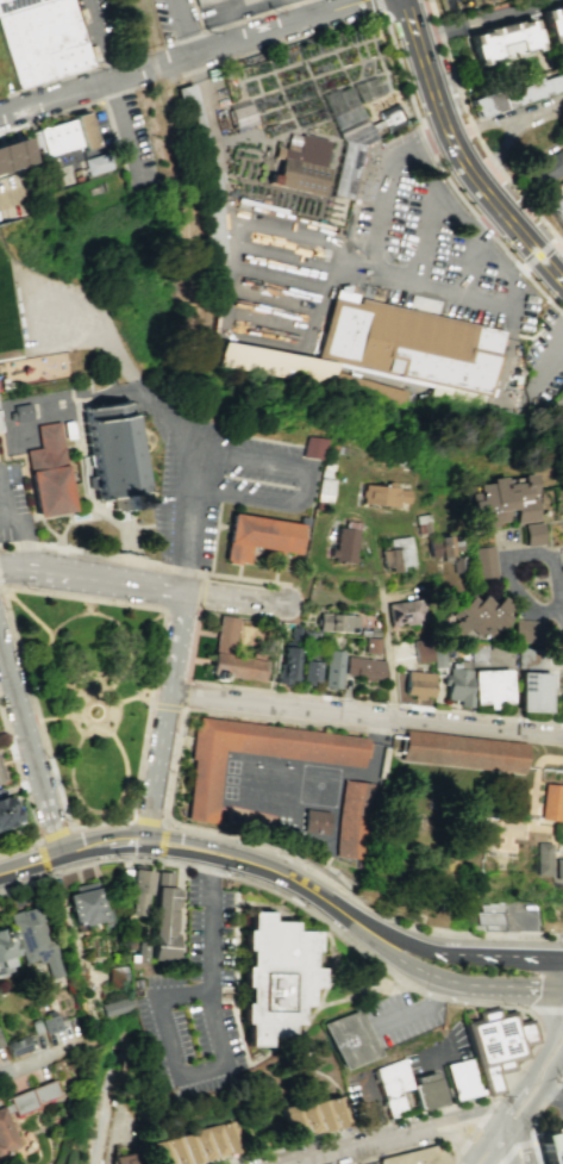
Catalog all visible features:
building: (206, 2)
road: (377, 7)
parking lot: (244, 13)
road: (490, 23)
building: (556, 24)
parking lot: (101, 27)
road: (280, 27)
building: (39, 39)
road: (98, 41)
building: (506, 43)
road: (152, 48)
railway: (151, 54)
road: (95, 85)
building: (517, 97)
road: (206, 108)
road: (539, 108)
road: (481, 125)
road: (126, 131)
road: (477, 135)
building: (68, 138)
road: (433, 139)
building: (361, 145)
road: (498, 150)
building: (18, 151)
building: (5, 157)
road: (457, 157)
road: (430, 166)
building: (302, 167)
building: (550, 167)
building: (206, 172)
building: (96, 173)
road: (443, 178)
railway: (186, 185)
building: (557, 211)
road: (457, 213)
road: (426, 237)
parking lot: (427, 247)
road: (538, 256)
road: (495, 261)
road: (354, 263)
road: (469, 268)
road: (381, 278)
road: (25, 306)
park: (10, 316)
road: (311, 335)
building: (415, 344)
parking lot: (544, 360)
road: (546, 363)
building: (280, 367)
building: (376, 391)
road: (150, 402)
parking lot: (557, 412)
building: (1, 425)
building: (311, 447)
building: (123, 466)
building: (51, 474)
building: (325, 491)
parking lot: (224, 492)
building: (381, 494)
building: (503, 500)
road: (283, 504)
parking lot: (13, 505)
building: (533, 534)
road: (23, 536)
building: (261, 539)
building: (344, 546)
building: (448, 546)
road: (507, 555)
building: (401, 559)
building: (484, 565)
building: (461, 566)
road: (93, 579)
road: (1, 589)
road: (237, 598)
building: (404, 612)
building: (482, 616)
road: (561, 616)
road: (238, 618)
building: (337, 623)
road: (119, 627)
road: (148, 629)
building: (527, 631)
building: (294, 633)
road: (207, 634)
road: (218, 634)
building: (305, 634)
fountain: (256, 639)
road: (49, 640)
building: (373, 646)
road: (192, 647)
building: (423, 652)
road: (275, 654)
building: (439, 658)
road: (388, 659)
building: (528, 659)
road: (201, 661)
building: (224, 662)
building: (286, 667)
building: (364, 668)
building: (332, 670)
building: (308, 671)
building: (240, 672)
building: (418, 684)
building: (458, 686)
building: (492, 686)
building: (534, 692)
road: (155, 695)
park: (93, 697)
road: (124, 702)
road: (373, 702)
road: (36, 708)
fountain: (95, 714)
road: (367, 716)
road: (23, 717)
road: (58, 717)
road: (168, 717)
road: (102, 726)
building: (463, 752)
building: (1, 776)
road: (25, 793)
building: (201, 795)
building: (551, 802)
road: (102, 811)
building: (7, 813)
road: (102, 817)
building: (355, 820)
road: (149, 821)
road: (101, 822)
road: (55, 824)
building: (317, 826)
park: (470, 828)
road: (52, 835)
road: (121, 840)
road: (163, 842)
road: (79, 848)
road: (377, 851)
road: (42, 859)
road: (490, 863)
road: (31, 864)
building: (548, 864)
road: (274, 872)
building: (139, 892)
road: (358, 902)
building: (89, 907)
parking lot: (525, 916)
building: (490, 917)
road: (320, 919)
building: (164, 920)
road: (437, 929)
road: (517, 935)
building: (32, 940)
building: (5, 945)
road: (469, 954)
building: (142, 956)
traffic signals: (558, 959)
road: (561, 959)
road: (557, 972)
building: (118, 975)
building: (275, 977)
road: (394, 982)
road: (462, 982)
traffic signals: (556, 986)
road: (559, 986)
parking lot: (182, 991)
road: (340, 1000)
building: (118, 1008)
road: (412, 1010)
road: (545, 1010)
road: (161, 1012)
parking lot: (392, 1019)
building: (50, 1023)
building: (348, 1039)
road: (287, 1041)
building: (495, 1041)
building: (14, 1045)
road: (453, 1046)
parking lot: (440, 1051)
road: (540, 1058)
road: (32, 1064)
road: (443, 1073)
road: (561, 1077)
building: (461, 1078)
building: (394, 1085)
building: (430, 1091)
road: (550, 1091)
road: (538, 1094)
road: (551, 1095)
building: (32, 1096)
parking lot: (368, 1097)
parking lot: (558, 1103)
road: (376, 1106)
road: (480, 1113)
railway: (110, 1115)
building: (337, 1116)
building: (323, 1119)
road: (359, 1119)
building: (308, 1122)
road: (476, 1125)
building: (294, 1126)
building: (277, 1129)
road: (359, 1129)
road: (533, 1133)
building: (5, 1135)
building: (249, 1135)
building: (231, 1140)
road: (120, 1143)
building: (218, 1143)
road: (374, 1143)
road: (463, 1143)
road: (494, 1144)
road: (513, 1144)
building: (551, 1144)
building: (204, 1146)
road: (513, 1146)
building: (190, 1149)
road: (409, 1149)
building: (176, 1151)
building: (162, 1152)
building: (417, 1157)
building: (131, 1160)
road: (455, 1160)
road: (459, 1160)

